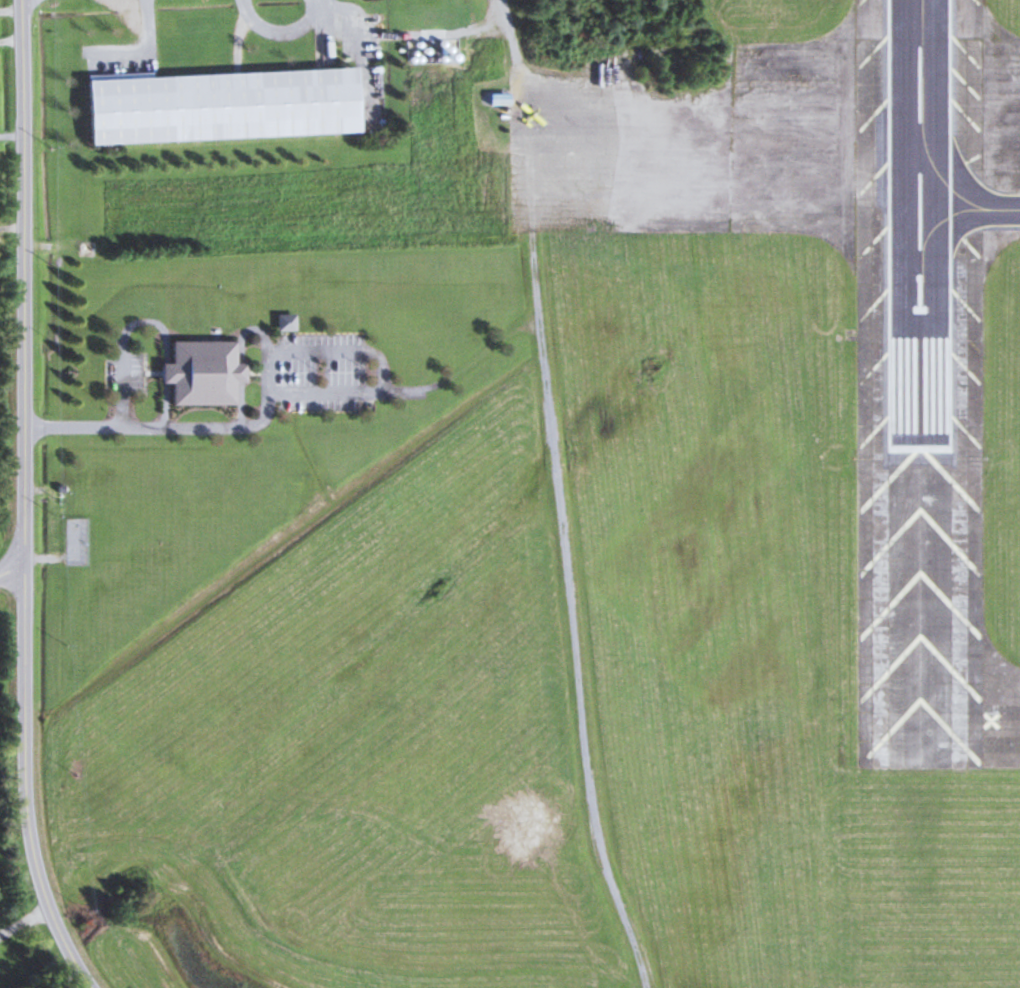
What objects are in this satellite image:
road: (281, 35)
road: (147, 50)
building: (217, 105)
airport taxiway: (969, 209)
airport runway: (919, 223)
building: (283, 322)
road: (382, 372)
parking lot: (321, 373)
building: (201, 375)
parking lot: (123, 376)
road: (121, 382)
road: (180, 428)
road: (554, 496)
road: (23, 500)
airport: (577, 552)
road: (11, 570)
airport taxiway: (920, 633)
road: (24, 923)

